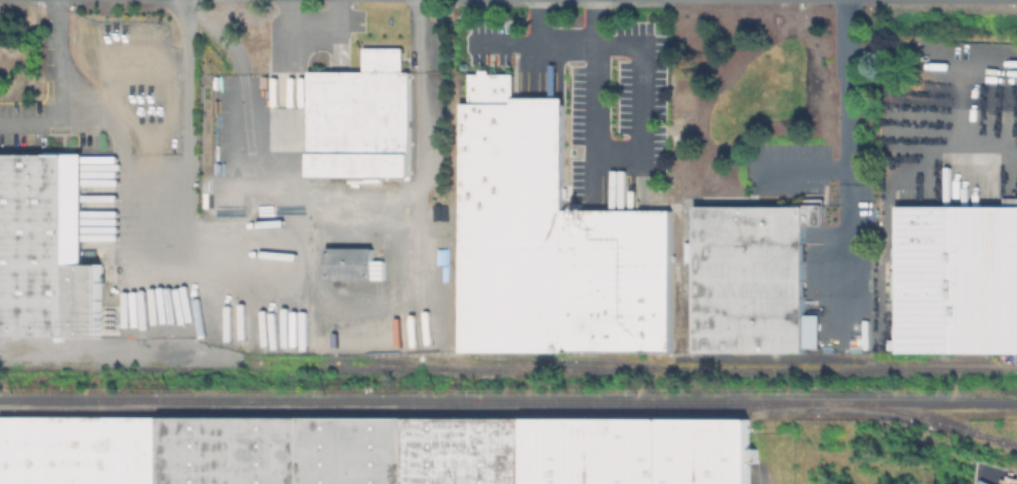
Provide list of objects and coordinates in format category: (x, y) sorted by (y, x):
road: (309, 26)
road: (564, 39)
building: (492, 89)
road: (33, 116)
building: (359, 118)
road: (845, 131)
road: (640, 143)
road: (981, 143)
road: (844, 238)
building: (554, 248)
building: (48, 250)
road: (138, 251)
building: (348, 263)
building: (753, 277)
building: (958, 280)
road: (314, 295)
railway: (350, 357)
railway: (579, 357)
railway: (807, 358)
railway: (970, 358)
railway: (8, 367)
railway: (508, 368)
railway: (508, 401)
railway: (406, 410)
railway: (922, 416)
railway: (993, 437)
building: (373, 450)

